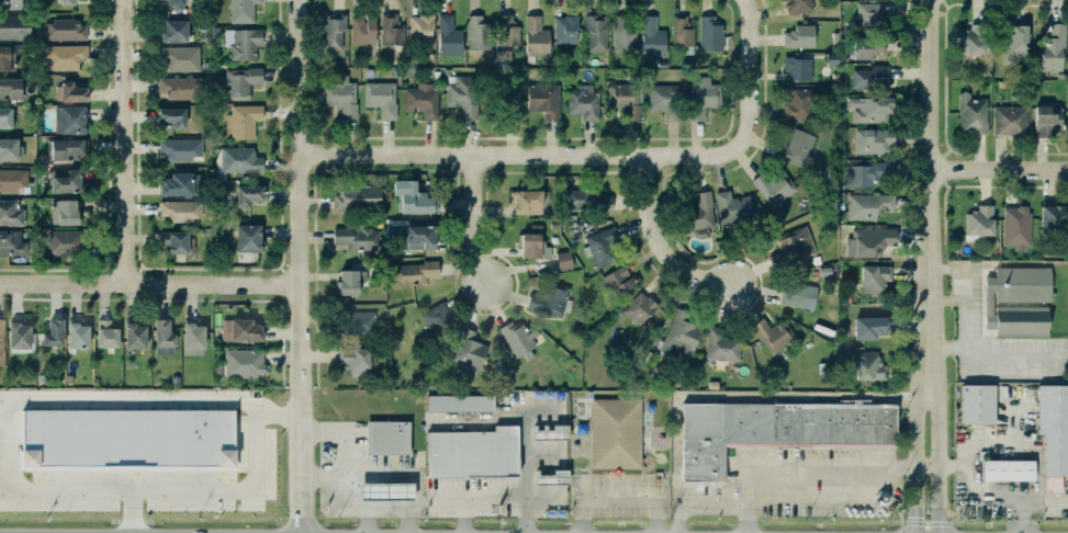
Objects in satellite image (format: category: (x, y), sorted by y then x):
building: (67, 1)
building: (10, 3)
building: (173, 3)
building: (796, 5)
building: (243, 12)
building: (868, 12)
building: (13, 26)
building: (420, 27)
building: (361, 29)
building: (565, 30)
building: (333, 31)
building: (682, 31)
building: (65, 32)
building: (477, 32)
building: (623, 33)
building: (392, 34)
building: (507, 34)
building: (596, 34)
building: (710, 34)
building: (448, 35)
building: (176, 36)
building: (799, 36)
building: (536, 37)
building: (652, 37)
building: (970, 41)
building: (243, 43)
building: (1015, 45)
building: (868, 47)
building: (1053, 48)
building: (64, 56)
building: (5, 58)
building: (179, 60)
building: (798, 69)
building: (867, 72)
road: (756, 77)
building: (236, 81)
building: (179, 86)
building: (10, 88)
building: (67, 91)
building: (340, 94)
building: (461, 94)
building: (702, 98)
building: (626, 99)
building: (666, 100)
building: (382, 101)
building: (508, 101)
building: (544, 102)
building: (584, 102)
building: (423, 103)
building: (798, 104)
building: (870, 109)
building: (970, 113)
building: (4, 116)
building: (169, 117)
building: (69, 120)
building: (1047, 120)
building: (243, 121)
building: (1011, 123)
road: (131, 141)
building: (874, 143)
building: (9, 147)
building: (792, 147)
building: (65, 148)
building: (178, 148)
road: (522, 155)
building: (237, 159)
road: (1000, 167)
building: (870, 172)
building: (13, 178)
building: (65, 180)
building: (178, 184)
building: (774, 186)
building: (245, 194)
building: (353, 196)
building: (409, 200)
building: (587, 200)
building: (527, 201)
building: (865, 204)
building: (731, 206)
building: (178, 209)
building: (64, 211)
building: (10, 213)
building: (699, 215)
building: (1054, 218)
building: (977, 220)
road: (472, 222)
building: (1016, 227)
road: (931, 233)
building: (247, 237)
building: (356, 237)
building: (415, 237)
building: (171, 240)
road: (656, 240)
building: (12, 241)
building: (61, 241)
building: (868, 241)
building: (532, 246)
building: (602, 247)
building: (792, 247)
building: (563, 260)
road: (307, 266)
building: (412, 271)
building: (874, 277)
building: (618, 281)
building: (346, 282)
road: (958, 282)
road: (154, 283)
building: (797, 295)
building: (550, 300)
building: (1018, 300)
building: (640, 307)
building: (434, 316)
building: (357, 322)
building: (869, 327)
building: (50, 333)
building: (105, 333)
building: (244, 333)
building: (769, 333)
building: (77, 334)
building: (135, 336)
building: (681, 336)
building: (160, 337)
building: (18, 338)
building: (190, 338)
building: (516, 339)
building: (0, 341)
building: (720, 344)
building: (465, 349)
road: (991, 358)
building: (355, 360)
building: (241, 362)
building: (866, 366)
road: (29, 398)
building: (460, 404)
building: (977, 404)
building: (777, 429)
building: (1056, 431)
building: (550, 432)
building: (616, 433)
building: (126, 436)
building: (387, 436)
building: (469, 452)
road: (524, 469)
road: (806, 469)
road: (382, 474)
building: (1012, 476)
building: (550, 477)
road: (229, 488)
building: (385, 489)
road: (983, 490)
gas station: (385, 491)
road: (617, 494)
road: (339, 497)
road: (695, 499)
road: (820, 499)
road: (928, 499)
road: (471, 500)
road: (461, 517)
road: (363, 521)

